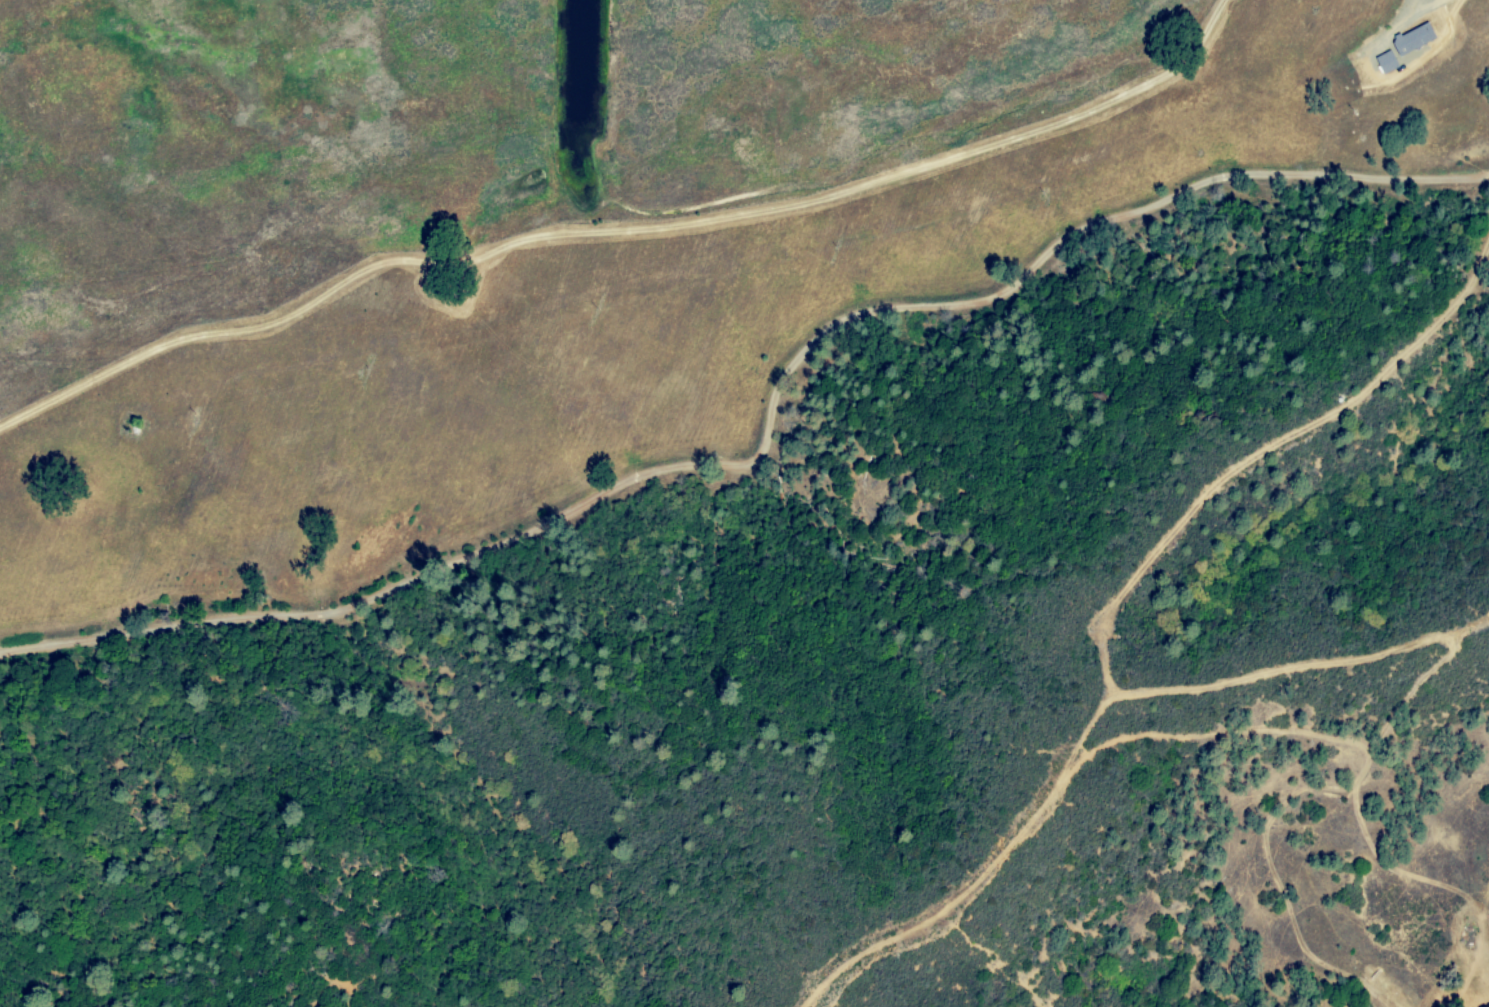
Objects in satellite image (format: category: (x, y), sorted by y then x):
road: (1404, 4)
building: (1414, 39)
building: (1387, 62)
road: (775, 415)

